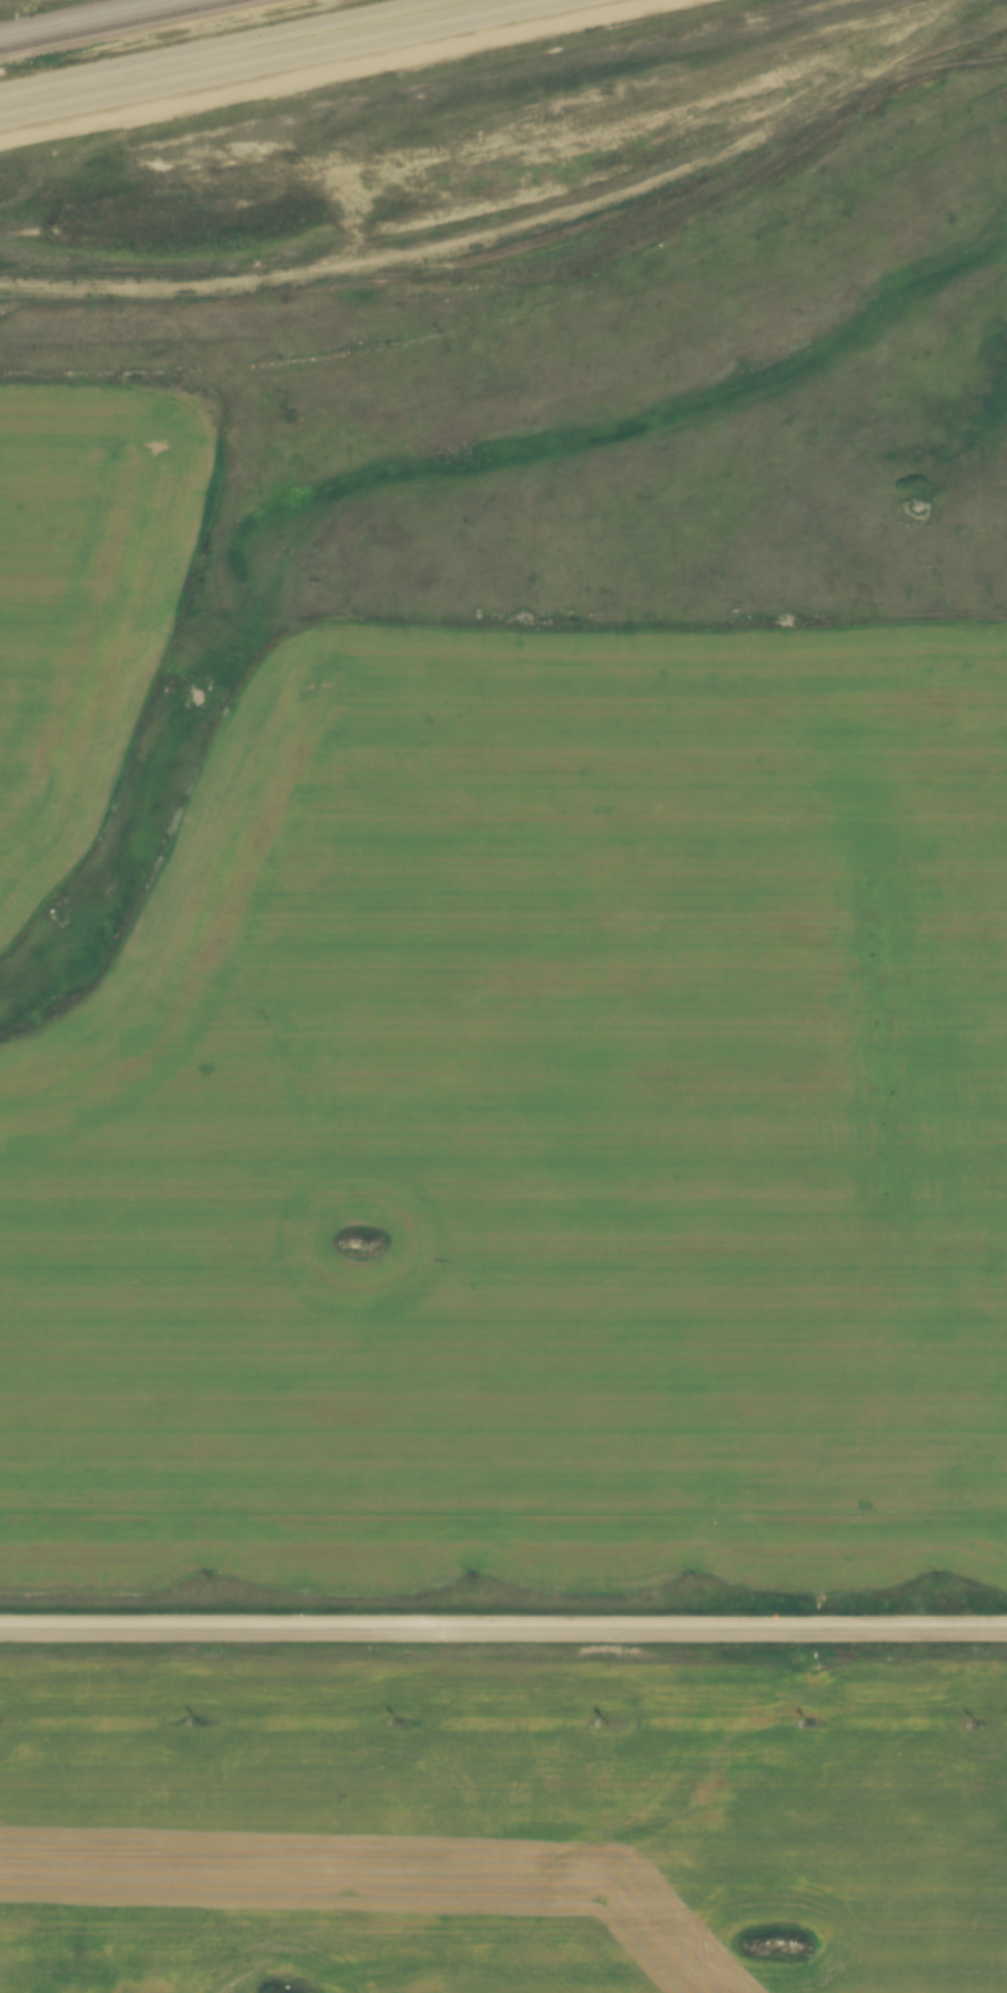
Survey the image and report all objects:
railway: (72, 15)
railway: (112, 23)
railway: (202, 43)
railway: (243, 51)
railway: (283, 59)
road: (503, 1629)

